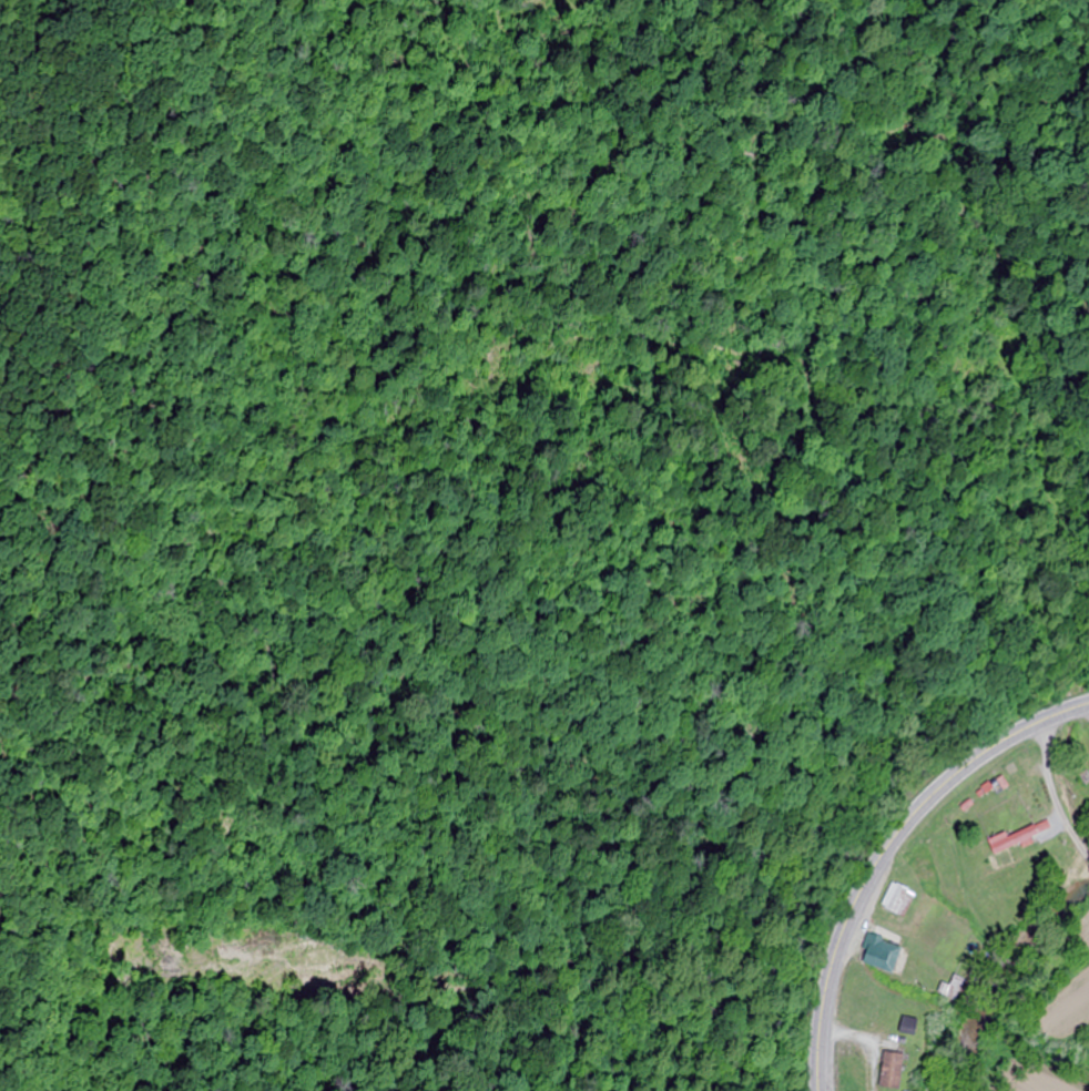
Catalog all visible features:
road: (1048, 779)
building: (1021, 791)
road: (1052, 825)
building: (1017, 837)
road: (884, 846)
road: (1082, 848)
building: (894, 900)
building: (877, 957)
river: (1007, 973)
building: (953, 990)
building: (888, 1071)

